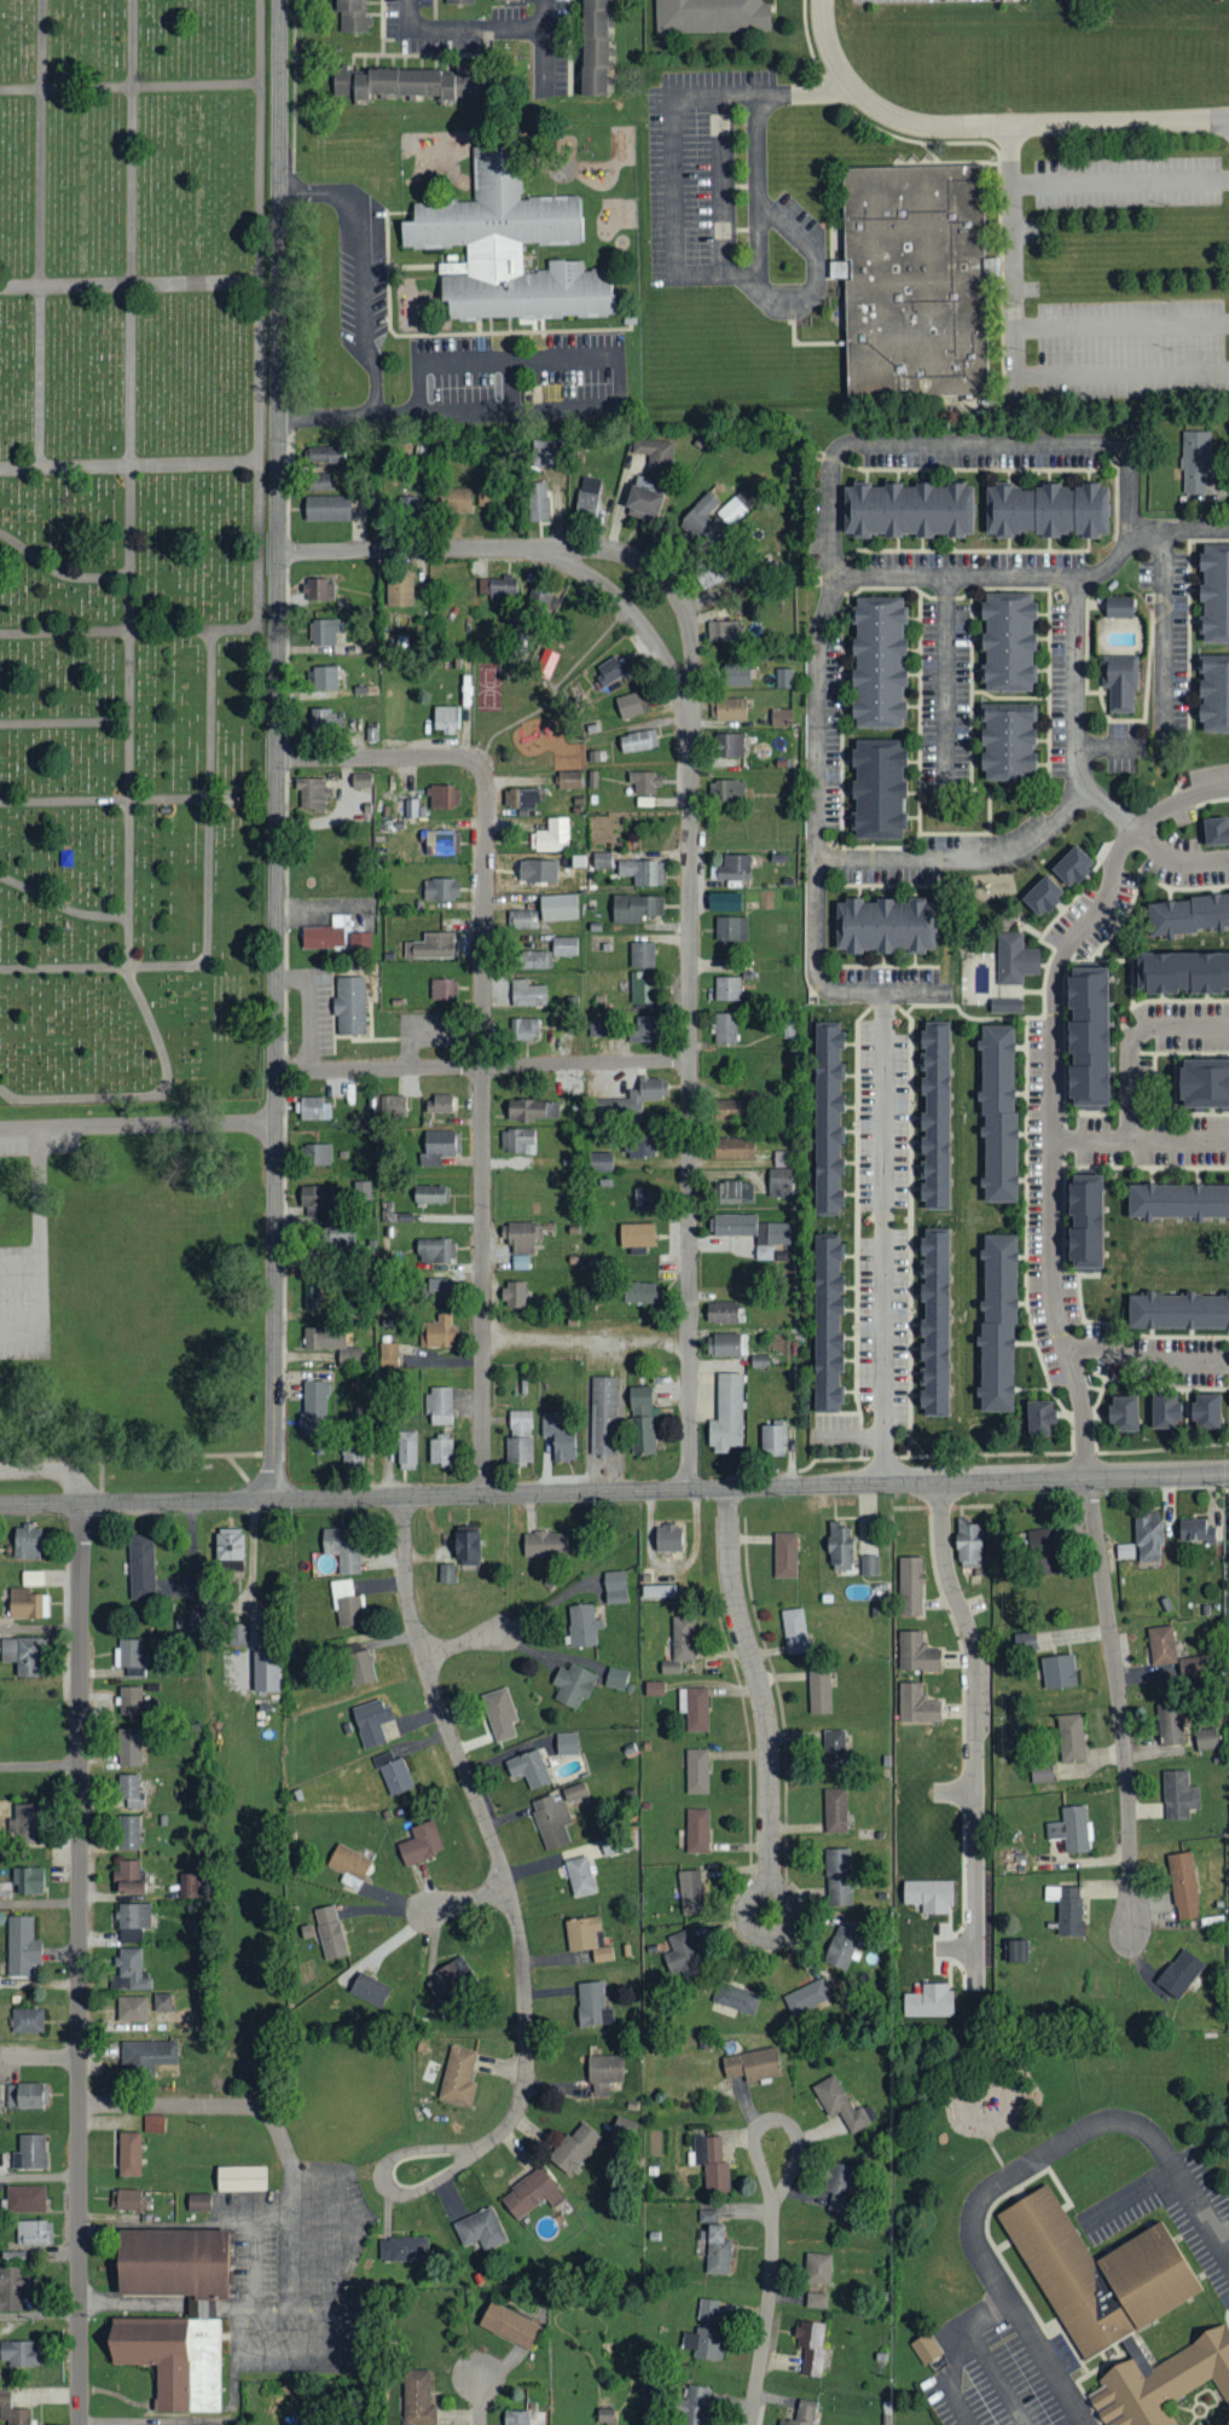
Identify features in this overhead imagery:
building: (456, 0)
building: (500, 0)
parking lot: (906, 0)
building: (353, 15)
road: (410, 15)
building: (712, 15)
road: (476, 29)
road: (543, 46)
building: (593, 46)
building: (406, 81)
road: (131, 87)
road: (987, 126)
road: (1119, 179)
road: (723, 183)
road: (673, 184)
road: (760, 228)
road: (40, 233)
building: (506, 247)
road: (1011, 249)
road: (365, 265)
building: (915, 277)
road: (129, 285)
road: (260, 312)
road: (1121, 322)
road: (1121, 372)
road: (619, 377)
road: (327, 415)
building: (547, 453)
building: (655, 453)
building: (326, 455)
building: (1195, 459)
road: (129, 467)
building: (318, 481)
road: (129, 484)
building: (587, 493)
building: (458, 498)
building: (537, 500)
building: (643, 503)
building: (326, 508)
building: (908, 508)
building: (1045, 508)
building: (731, 511)
building: (698, 515)
park: (132, 548)
building: (712, 571)
road: (58, 572)
road: (1034, 575)
road: (666, 579)
road: (825, 581)
building: (320, 589)
building: (499, 589)
building: (399, 590)
building: (1214, 591)
building: (785, 597)
building: (540, 602)
building: (1119, 606)
road: (1165, 612)
building: (721, 631)
road: (126, 632)
building: (324, 632)
building: (1008, 638)
building: (877, 659)
building: (545, 662)
building: (607, 672)
building: (735, 673)
road: (945, 675)
building: (324, 677)
building: (784, 677)
building: (1120, 681)
building: (1214, 691)
building: (627, 705)
building: (730, 708)
road: (1076, 716)
building: (781, 717)
building: (445, 718)
building: (321, 720)
road: (64, 723)
building: (637, 741)
building: (1008, 741)
building: (729, 745)
road: (276, 750)
building: (569, 779)
building: (360, 780)
building: (645, 782)
building: (879, 787)
building: (727, 792)
building: (311, 793)
road: (210, 798)
building: (444, 798)
building: (523, 798)
road: (112, 800)
building: (1216, 833)
building: (551, 835)
building: (435, 843)
road: (688, 853)
road: (963, 857)
road: (1178, 857)
building: (734, 868)
building: (537, 870)
building: (642, 872)
building: (1059, 880)
building: (440, 889)
road: (62, 905)
building: (557, 908)
building: (634, 908)
building: (1187, 911)
building: (522, 919)
building: (883, 925)
building: (731, 928)
building: (324, 934)
building: (360, 941)
building: (431, 945)
building: (564, 947)
building: (640, 955)
building: (1014, 956)
building: (533, 960)
road: (104, 967)
building: (1183, 976)
building: (444, 989)
building: (640, 989)
building: (726, 989)
building: (527, 994)
building: (1005, 1003)
building: (349, 1006)
road: (481, 1028)
building: (597, 1028)
building: (524, 1029)
building: (724, 1029)
building: (644, 1030)
road: (1132, 1035)
building: (1089, 1040)
road: (480, 1065)
building: (1204, 1088)
road: (1051, 1093)
road: (144, 1095)
building: (628, 1102)
building: (439, 1104)
building: (740, 1106)
building: (393, 1107)
building: (314, 1109)
building: (532, 1110)
building: (935, 1112)
building: (998, 1112)
building: (825, 1117)
road: (157, 1123)
road: (19, 1127)
road: (1091, 1136)
road: (1179, 1138)
building: (517, 1141)
building: (640, 1146)
building: (732, 1148)
building: (318, 1154)
building: (782, 1159)
building: (601, 1162)
building: (779, 1182)
building: (734, 1192)
building: (430, 1194)
building: (320, 1199)
building: (647, 1199)
building: (1178, 1199)
building: (1085, 1225)
road: (39, 1227)
building: (753, 1232)
building: (637, 1235)
road: (882, 1235)
building: (337, 1240)
building: (522, 1243)
building: (435, 1251)
road: (19, 1271)
building: (441, 1289)
building: (639, 1292)
building: (514, 1295)
building: (311, 1297)
building: (1177, 1309)
building: (724, 1313)
building: (934, 1319)
building: (998, 1320)
building: (825, 1323)
road: (19, 1329)
building: (437, 1332)
road: (585, 1337)
building: (726, 1344)
building: (332, 1345)
building: (389, 1354)
road: (1140, 1362)
building: (640, 1402)
building: (439, 1406)
building: (314, 1410)
building: (1165, 1412)
building: (1206, 1412)
building: (726, 1414)
building: (602, 1416)
building: (1124, 1416)
building: (1042, 1418)
building: (520, 1423)
building: (643, 1436)
building: (772, 1437)
building: (558, 1439)
building: (518, 1451)
building: (440, 1452)
road: (138, 1454)
building: (352, 1455)
road: (52, 1469)
road: (752, 1487)
road: (137, 1501)
building: (1195, 1532)
building: (667, 1539)
building: (1148, 1539)
building: (27, 1543)
building: (968, 1544)
building: (545, 1545)
building: (840, 1546)
building: (342, 1547)
building: (465, 1549)
building: (228, 1550)
building: (784, 1556)
building: (870, 1565)
building: (141, 1567)
building: (446, 1574)
building: (30, 1578)
building: (910, 1586)
building: (614, 1587)
building: (657, 1592)
building: (27, 1604)
building: (347, 1605)
building: (582, 1626)
road: (40, 1627)
building: (794, 1632)
building: (238, 1634)
building: (683, 1639)
road: (462, 1643)
building: (1161, 1645)
building: (916, 1653)
road: (975, 1654)
building: (23, 1656)
building: (131, 1657)
building: (360, 1668)
building: (669, 1668)
building: (1059, 1672)
building: (616, 1679)
building: (573, 1685)
building: (654, 1689)
building: (819, 1694)
building: (131, 1701)
road: (1118, 1701)
building: (916, 1706)
building: (696, 1708)
building: (499, 1713)
building: (371, 1720)
building: (1170, 1724)
building: (1071, 1737)
building: (1205, 1738)
building: (567, 1743)
building: (129, 1747)
building: (834, 1750)
road: (767, 1761)
road: (40, 1765)
building: (528, 1767)
building: (696, 1771)
building: (393, 1772)
building: (1042, 1772)
building: (574, 1790)
building: (131, 1792)
road: (953, 1793)
building: (1178, 1795)
building: (835, 1810)
building: (551, 1819)
building: (24, 1822)
building: (1071, 1828)
building: (697, 1829)
building: (128, 1833)
building: (421, 1842)
building: (348, 1864)
building: (128, 1876)
building: (579, 1876)
building: (837, 1876)
building: (28, 1880)
building: (1183, 1885)
building: (190, 1886)
building: (690, 1891)
building: (927, 1896)
road: (465, 1898)
road: (40, 1902)
road: (975, 1904)
building: (1067, 1908)
building: (132, 1921)
building: (329, 1931)
road: (517, 1933)
building: (587, 1938)
building: (842, 1943)
building: (21, 1945)
building: (1016, 1950)
building: (680, 1954)
road: (79, 1963)
building: (131, 1969)
building: (1179, 1972)
building: (450, 1981)
building: (369, 1989)
building: (806, 1996)
building: (736, 1997)
building: (928, 1999)
building: (162, 2002)
building: (592, 2003)
building: (131, 2008)
building: (27, 2019)
building: (149, 2054)
road: (39, 2056)
building: (752, 2064)
building: (603, 2073)
building: (458, 2076)
building: (23, 2095)
building: (0, 2097)
building: (839, 2103)
road: (266, 2112)
road: (775, 2120)
building: (153, 2123)
building: (574, 2147)
building: (30, 2152)
building: (129, 2153)
building: (712, 2163)
road: (1011, 2170)
road: (40, 2175)
building: (239, 2177)
building: (837, 2186)
road: (1127, 2192)
building: (531, 2193)
building: (25, 2199)
building: (128, 2199)
building: (198, 2201)
building: (480, 2229)
building: (33, 2233)
building: (714, 2242)
building: (402, 2249)
building: (817, 2268)
building: (11, 2287)
building: (816, 2299)
building: (1114, 2303)
road: (40, 2313)
building: (708, 2313)
road: (765, 2314)
building: (509, 2325)
building: (164, 2339)
building: (708, 2343)
building: (811, 2345)
building: (924, 2348)
road: (958, 2350)
building: (18, 2352)
road: (996, 2372)
building: (417, 2397)
road: (479, 2400)
building: (694, 2404)
building: (12, 2412)
building: (801, 2413)
building: (604, 2415)
building: (522, 2417)

